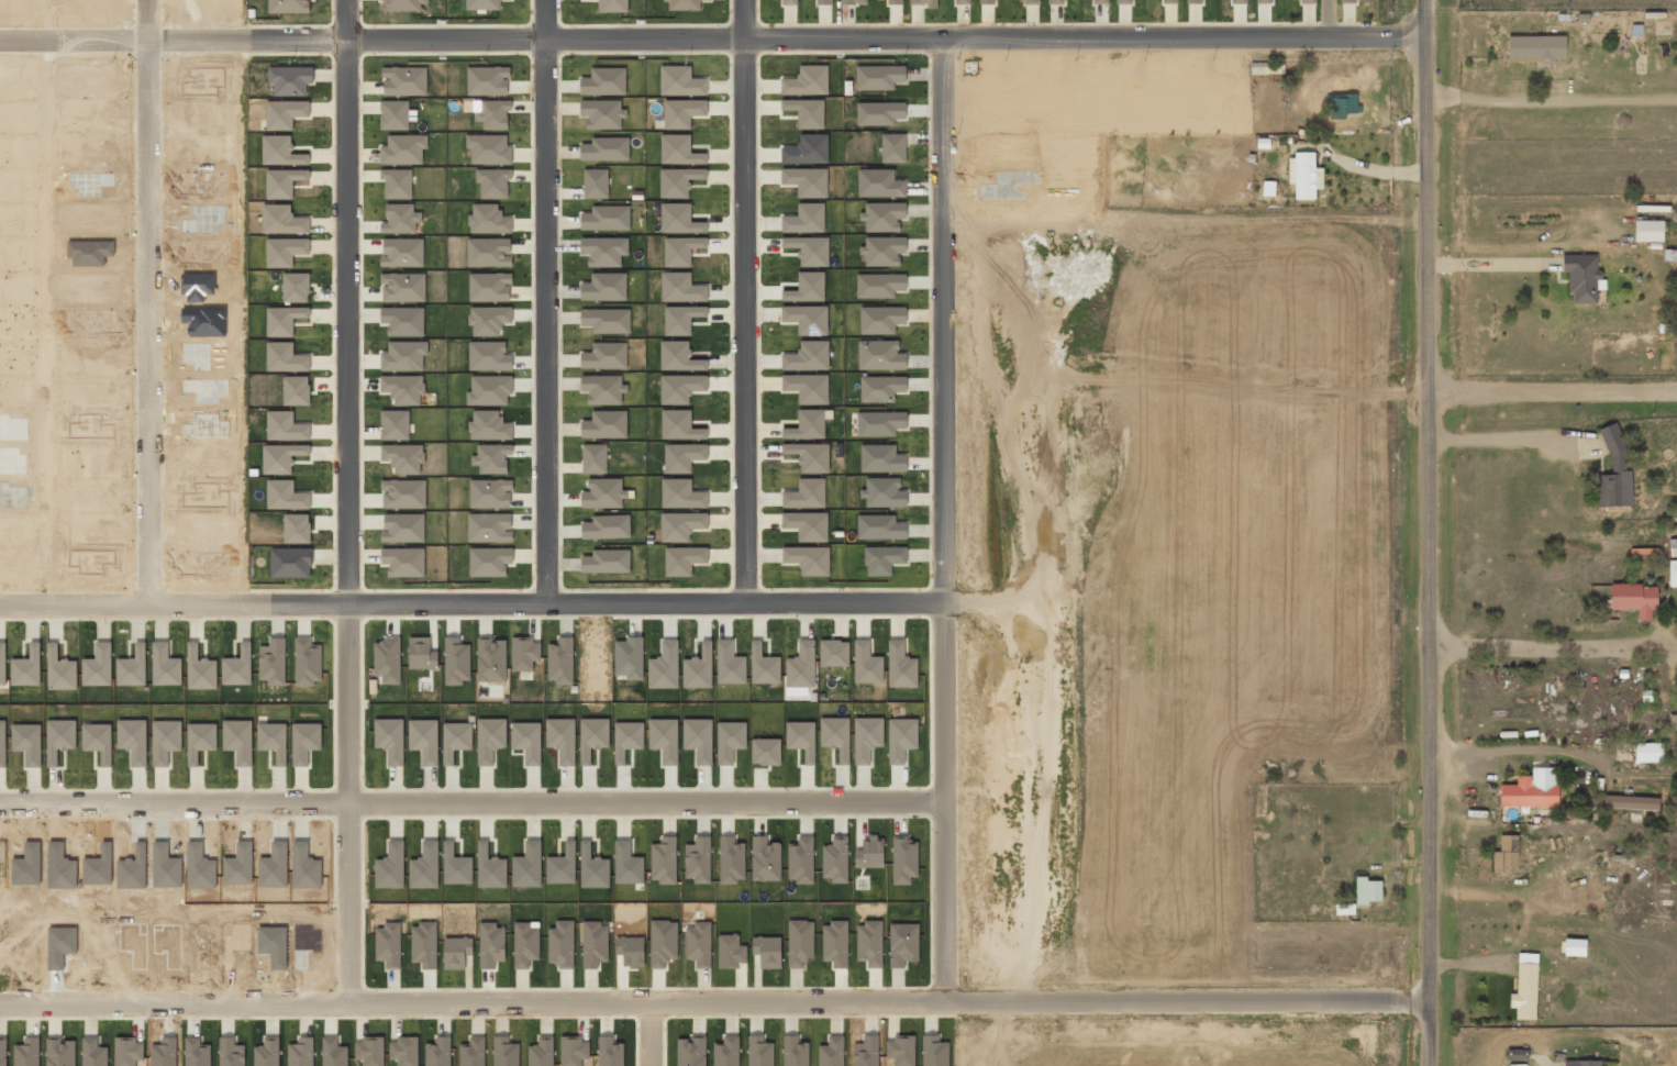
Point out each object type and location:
building: (1303, 0)
building: (1355, 0)
building: (962, 1)
building: (987, 1)
building: (1031, 1)
building: (1056, 1)
building: (1100, 1)
building: (1124, 1)
building: (1169, 1)
building: (1193, 1)
building: (1239, 1)
building: (1264, 1)
building: (789, 2)
building: (823, 2)
building: (853, 2)
building: (895, 2)
building: (922, 2)
building: (404, 4)
building: (482, 4)
building: (682, 4)
building: (289, 5)
building: (612, 5)
road: (1331, 19)
road: (714, 40)
building: (1536, 46)
building: (879, 77)
building: (290, 79)
building: (404, 80)
building: (487, 80)
building: (807, 80)
building: (603, 81)
building: (680, 81)
building: (682, 112)
building: (806, 112)
building: (493, 113)
building: (602, 113)
building: (879, 113)
building: (393, 114)
building: (489, 148)
building: (403, 149)
building: (606, 149)
building: (679, 149)
building: (807, 149)
building: (1304, 175)
building: (679, 181)
building: (806, 181)
building: (397, 182)
building: (493, 182)
building: (596, 182)
building: (879, 184)
building: (1269, 188)
building: (606, 218)
building: (400, 219)
building: (488, 219)
building: (679, 219)
building: (804, 219)
building: (1648, 230)
building: (681, 249)
building: (810, 249)
building: (604, 251)
building: (884, 251)
building: (402, 252)
building: (489, 252)
building: (1670, 255)
building: (1582, 277)
building: (402, 287)
building: (489, 287)
building: (604, 287)
building: (807, 287)
building: (681, 288)
road: (544, 301)
road: (744, 301)
road: (146, 303)
building: (681, 319)
building: (807, 319)
building: (489, 320)
building: (606, 320)
building: (403, 321)
building: (880, 355)
building: (489, 356)
building: (604, 356)
building: (679, 356)
building: (808, 356)
building: (603, 388)
building: (680, 388)
building: (489, 390)
road: (1555, 390)
building: (395, 424)
building: (604, 424)
building: (489, 425)
building: (682, 456)
building: (403, 457)
building: (491, 458)
building: (593, 458)
building: (1614, 471)
building: (403, 493)
building: (490, 493)
building: (603, 493)
building: (806, 493)
road: (349, 501)
road: (944, 518)
building: (607, 526)
building: (403, 528)
building: (489, 528)
road: (1434, 532)
building: (1673, 547)
building: (808, 559)
building: (489, 560)
building: (403, 562)
building: (607, 562)
building: (1673, 573)
building: (1634, 598)
road: (471, 602)
road: (1556, 653)
building: (1673, 722)
building: (1648, 752)
building: (1532, 789)
road: (474, 799)
building: (1631, 802)
building: (1507, 855)
building: (1367, 890)
building: (1575, 947)
building: (1525, 987)
road: (715, 999)
building: (1517, 1054)
building: (1582, 1063)

